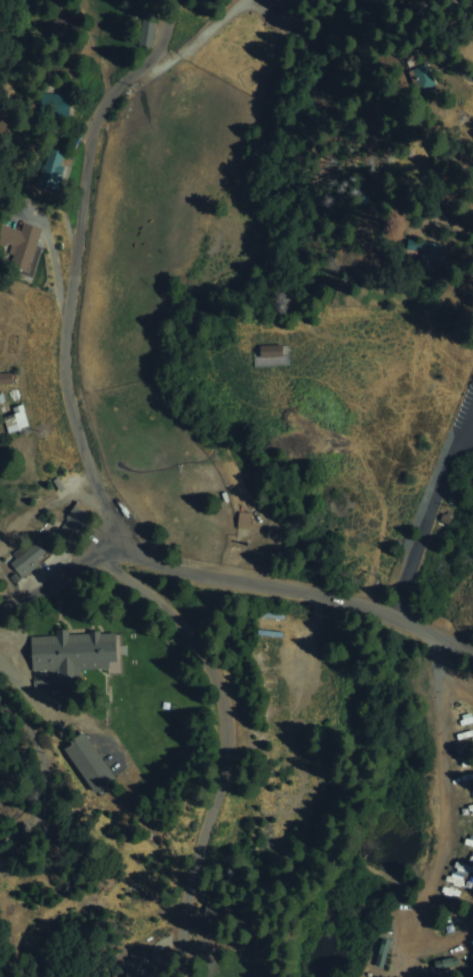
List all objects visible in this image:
building: (147, 34)
building: (54, 102)
building: (54, 171)
road: (446, 228)
building: (21, 246)
building: (428, 251)
road: (75, 267)
building: (269, 351)
building: (6, 379)
building: (14, 422)
road: (432, 511)
building: (244, 520)
building: (73, 523)
building: (27, 558)
road: (234, 581)
building: (72, 654)
building: (0, 724)
road: (223, 744)
road: (39, 756)
building: (90, 764)
road: (443, 795)
building: (4, 867)
building: (145, 962)

